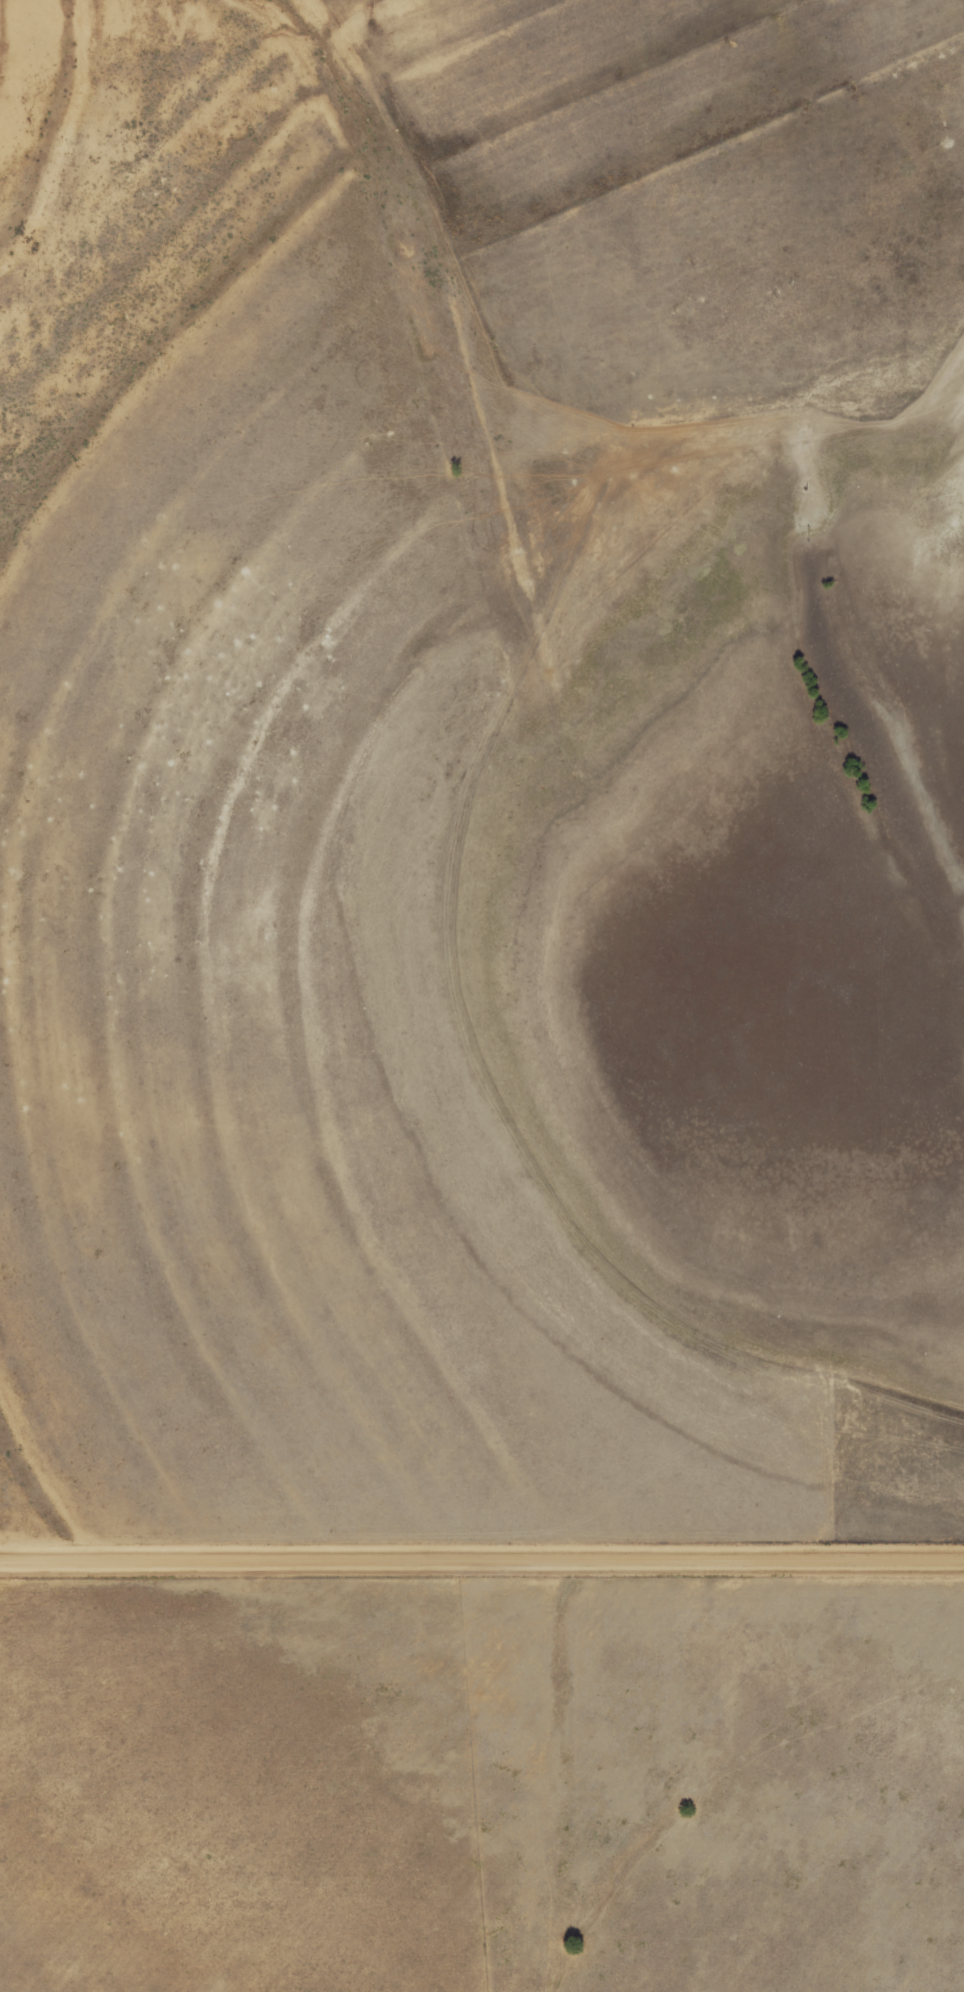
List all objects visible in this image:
road: (482, 1567)

